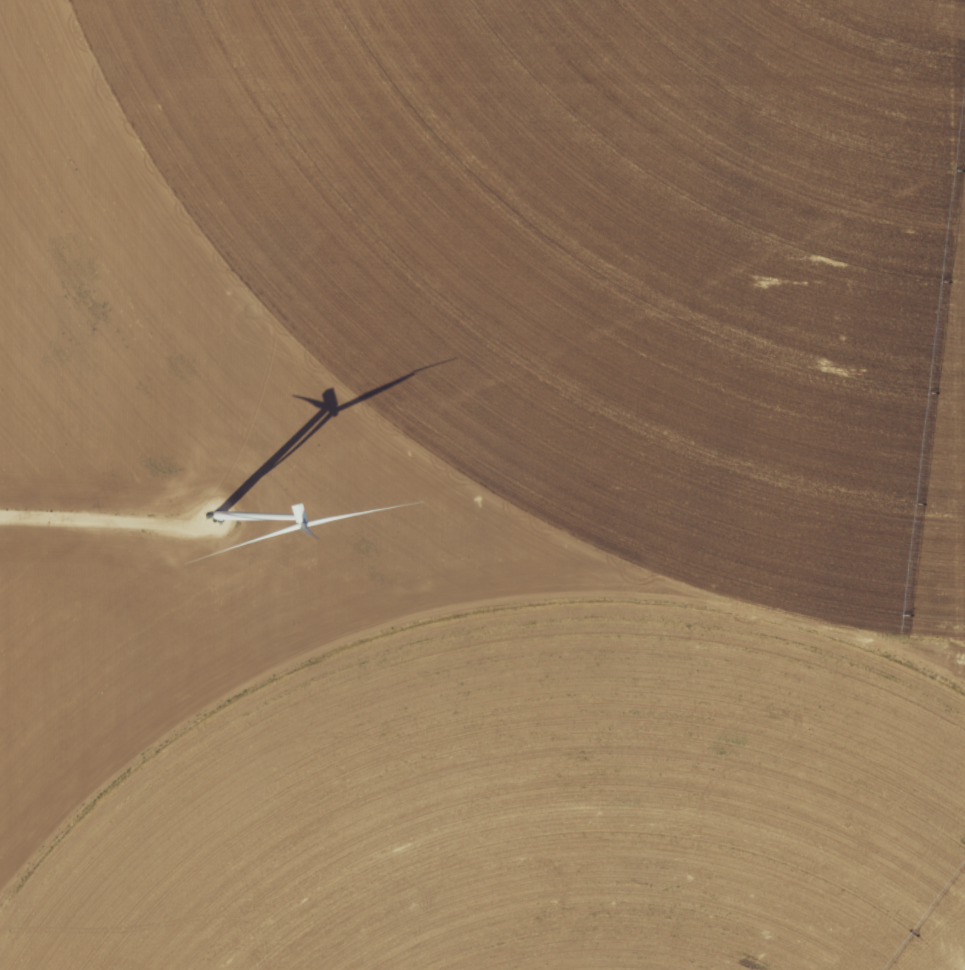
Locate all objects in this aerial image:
wind turbine: (216, 510)

